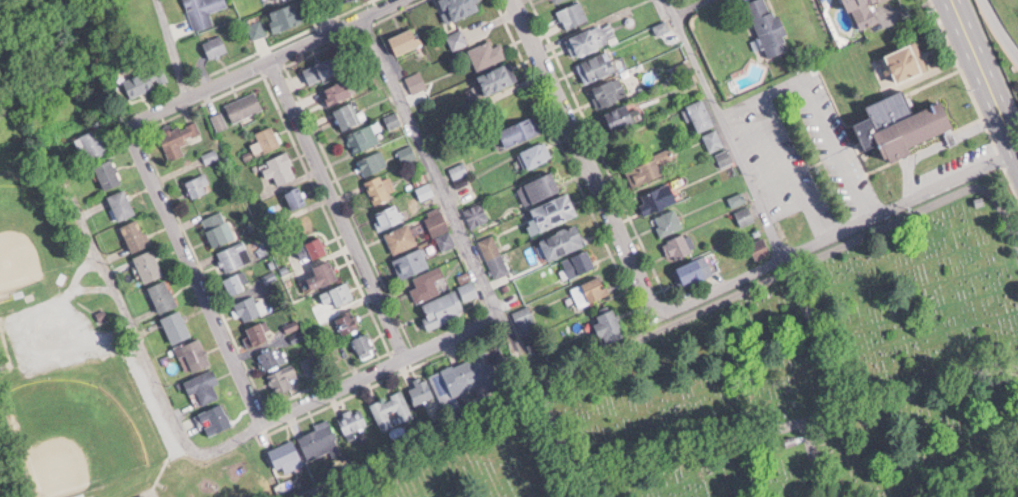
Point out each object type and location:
building: (555, 0)
road: (686, 6)
building: (459, 7)
building: (203, 10)
building: (864, 11)
building: (574, 12)
building: (286, 14)
road: (326, 14)
building: (769, 25)
building: (257, 26)
road: (996, 27)
building: (458, 37)
building: (591, 37)
building: (405, 39)
building: (215, 44)
road: (171, 46)
building: (487, 52)
building: (908, 59)
road: (260, 60)
building: (597, 65)
building: (322, 67)
road: (987, 69)
building: (497, 76)
building: (146, 79)
building: (416, 80)
building: (338, 89)
road: (770, 89)
building: (608, 90)
building: (244, 104)
building: (347, 113)
building: (701, 113)
building: (620, 116)
building: (905, 123)
road: (728, 128)
building: (520, 129)
building: (180, 136)
building: (268, 136)
building: (363, 136)
building: (713, 138)
building: (94, 142)
road: (839, 150)
building: (535, 153)
building: (724, 156)
building: (373, 161)
road: (580, 161)
building: (283, 165)
road: (430, 167)
building: (648, 167)
road: (763, 168)
road: (790, 169)
building: (109, 172)
building: (198, 183)
building: (378, 187)
building: (539, 187)
building: (297, 196)
building: (660, 196)
building: (122, 203)
road: (335, 209)
building: (555, 210)
building: (745, 214)
building: (389, 216)
building: (667, 221)
building: (218, 227)
building: (136, 233)
park: (29, 235)
building: (401, 237)
road: (833, 238)
building: (564, 240)
building: (679, 245)
building: (314, 246)
building: (759, 246)
building: (232, 254)
building: (411, 262)
building: (579, 262)
building: (149, 264)
building: (694, 269)
road: (194, 271)
building: (324, 273)
building: (238, 280)
building: (427, 283)
building: (590, 290)
building: (339, 293)
building: (163, 294)
building: (249, 306)
building: (443, 307)
building: (348, 321)
building: (176, 324)
building: (609, 324)
building: (258, 331)
road: (139, 335)
building: (364, 344)
building: (195, 352)
building: (273, 355)
building: (310, 362)
road: (381, 370)
building: (283, 378)
building: (204, 384)
park: (773, 390)
building: (391, 408)
building: (216, 417)
building: (354, 419)
park: (77, 436)
building: (319, 438)
building: (286, 455)
building: (141, 495)

